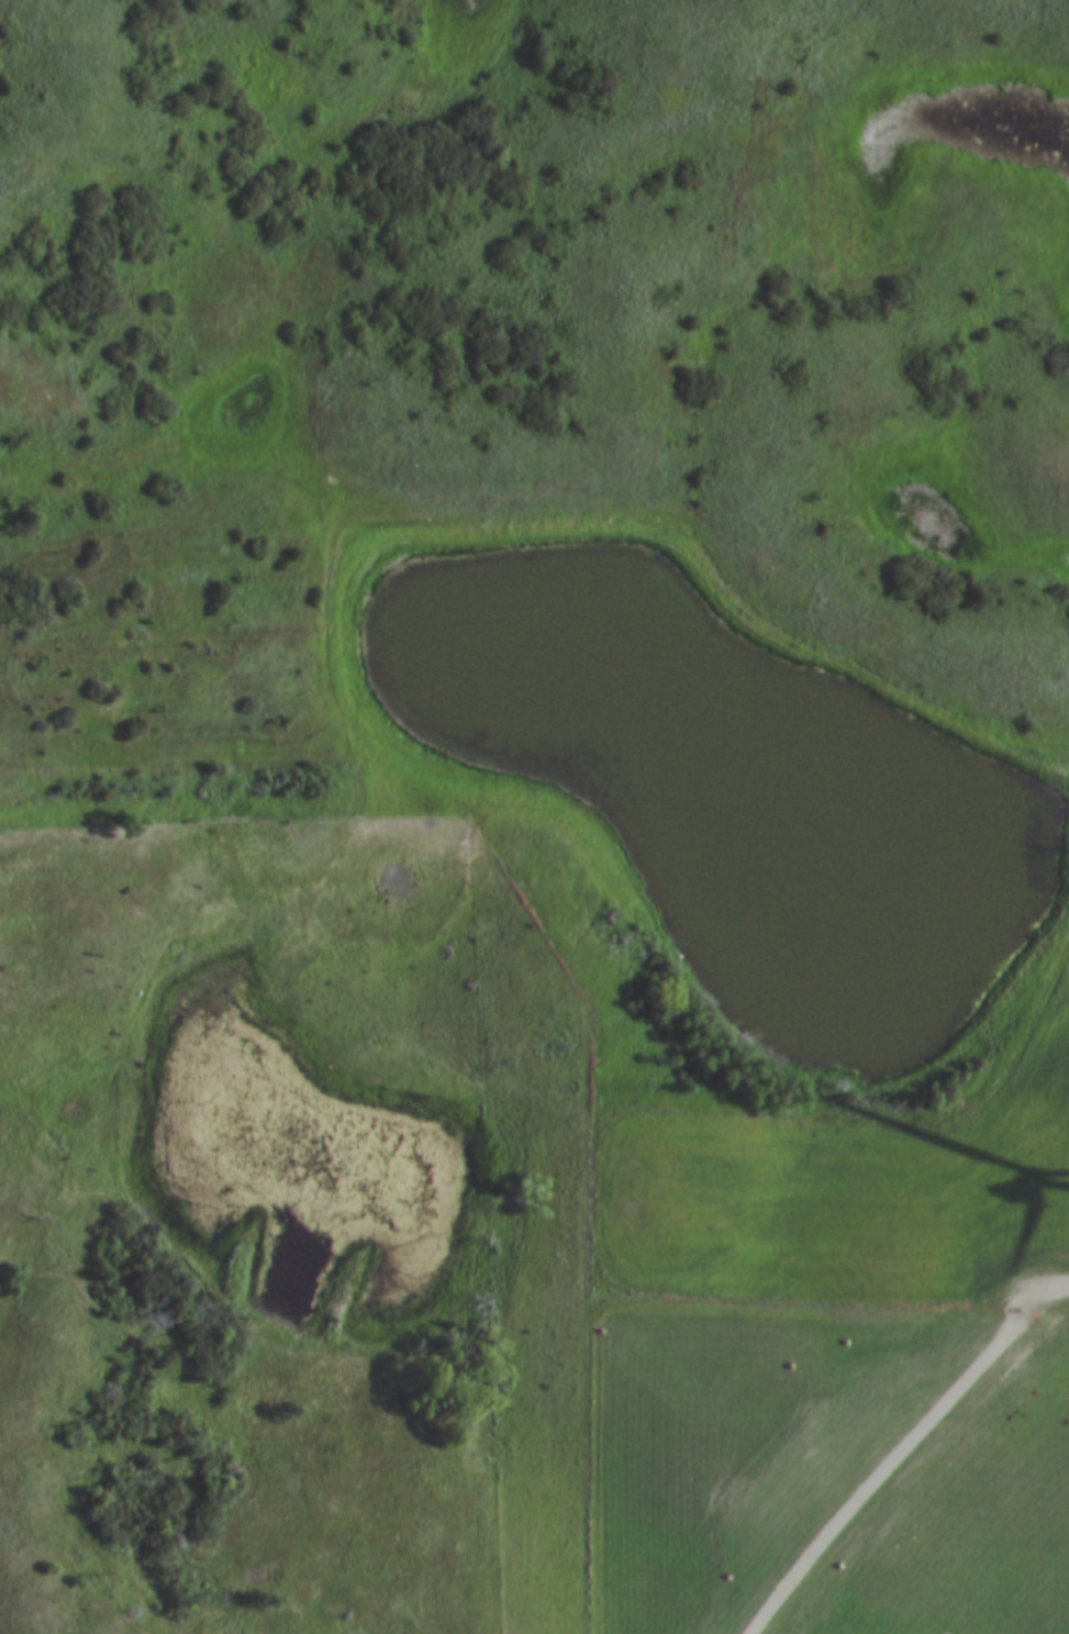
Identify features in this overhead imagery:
road: (912, 1446)

